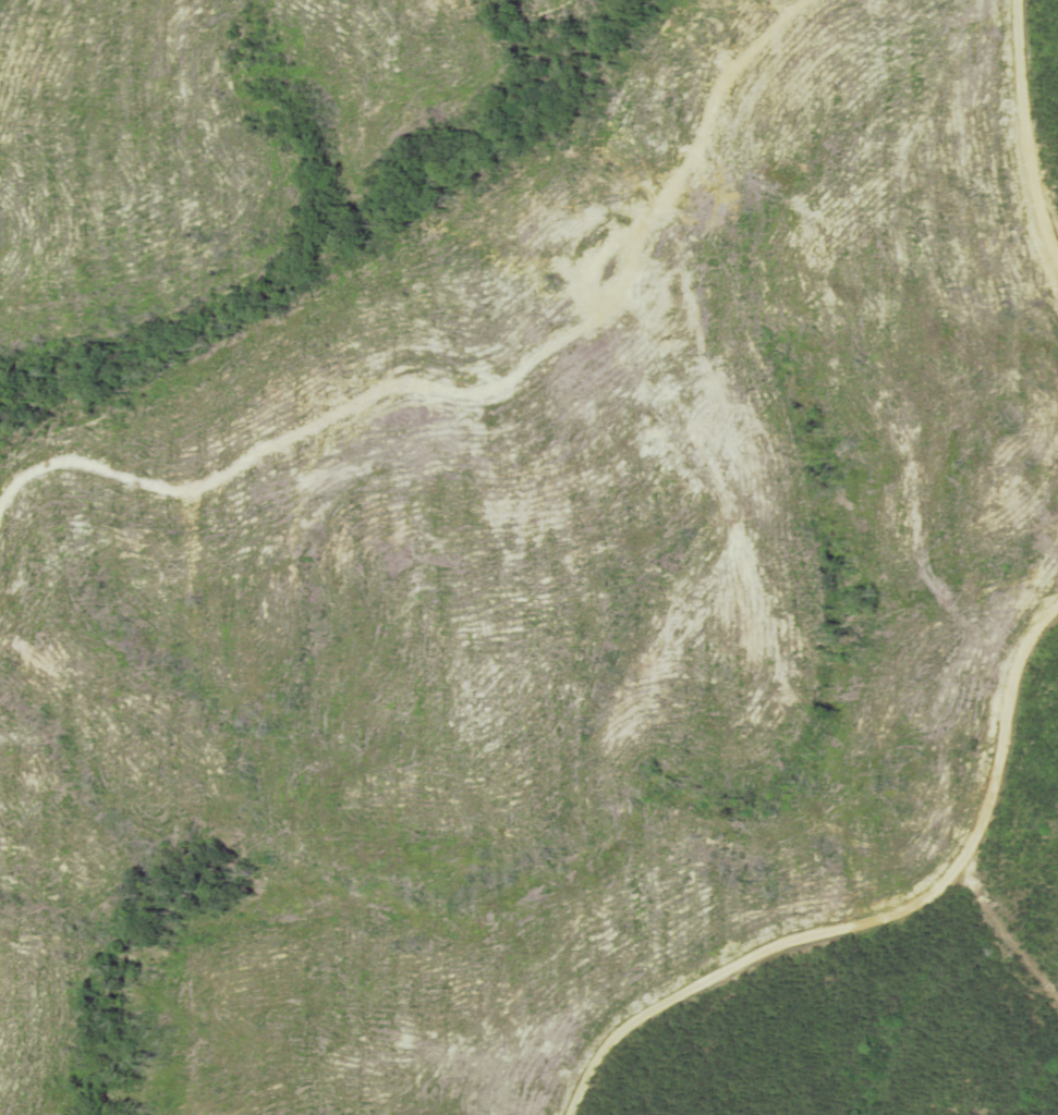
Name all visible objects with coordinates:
road: (1024, 124)
road: (876, 917)

